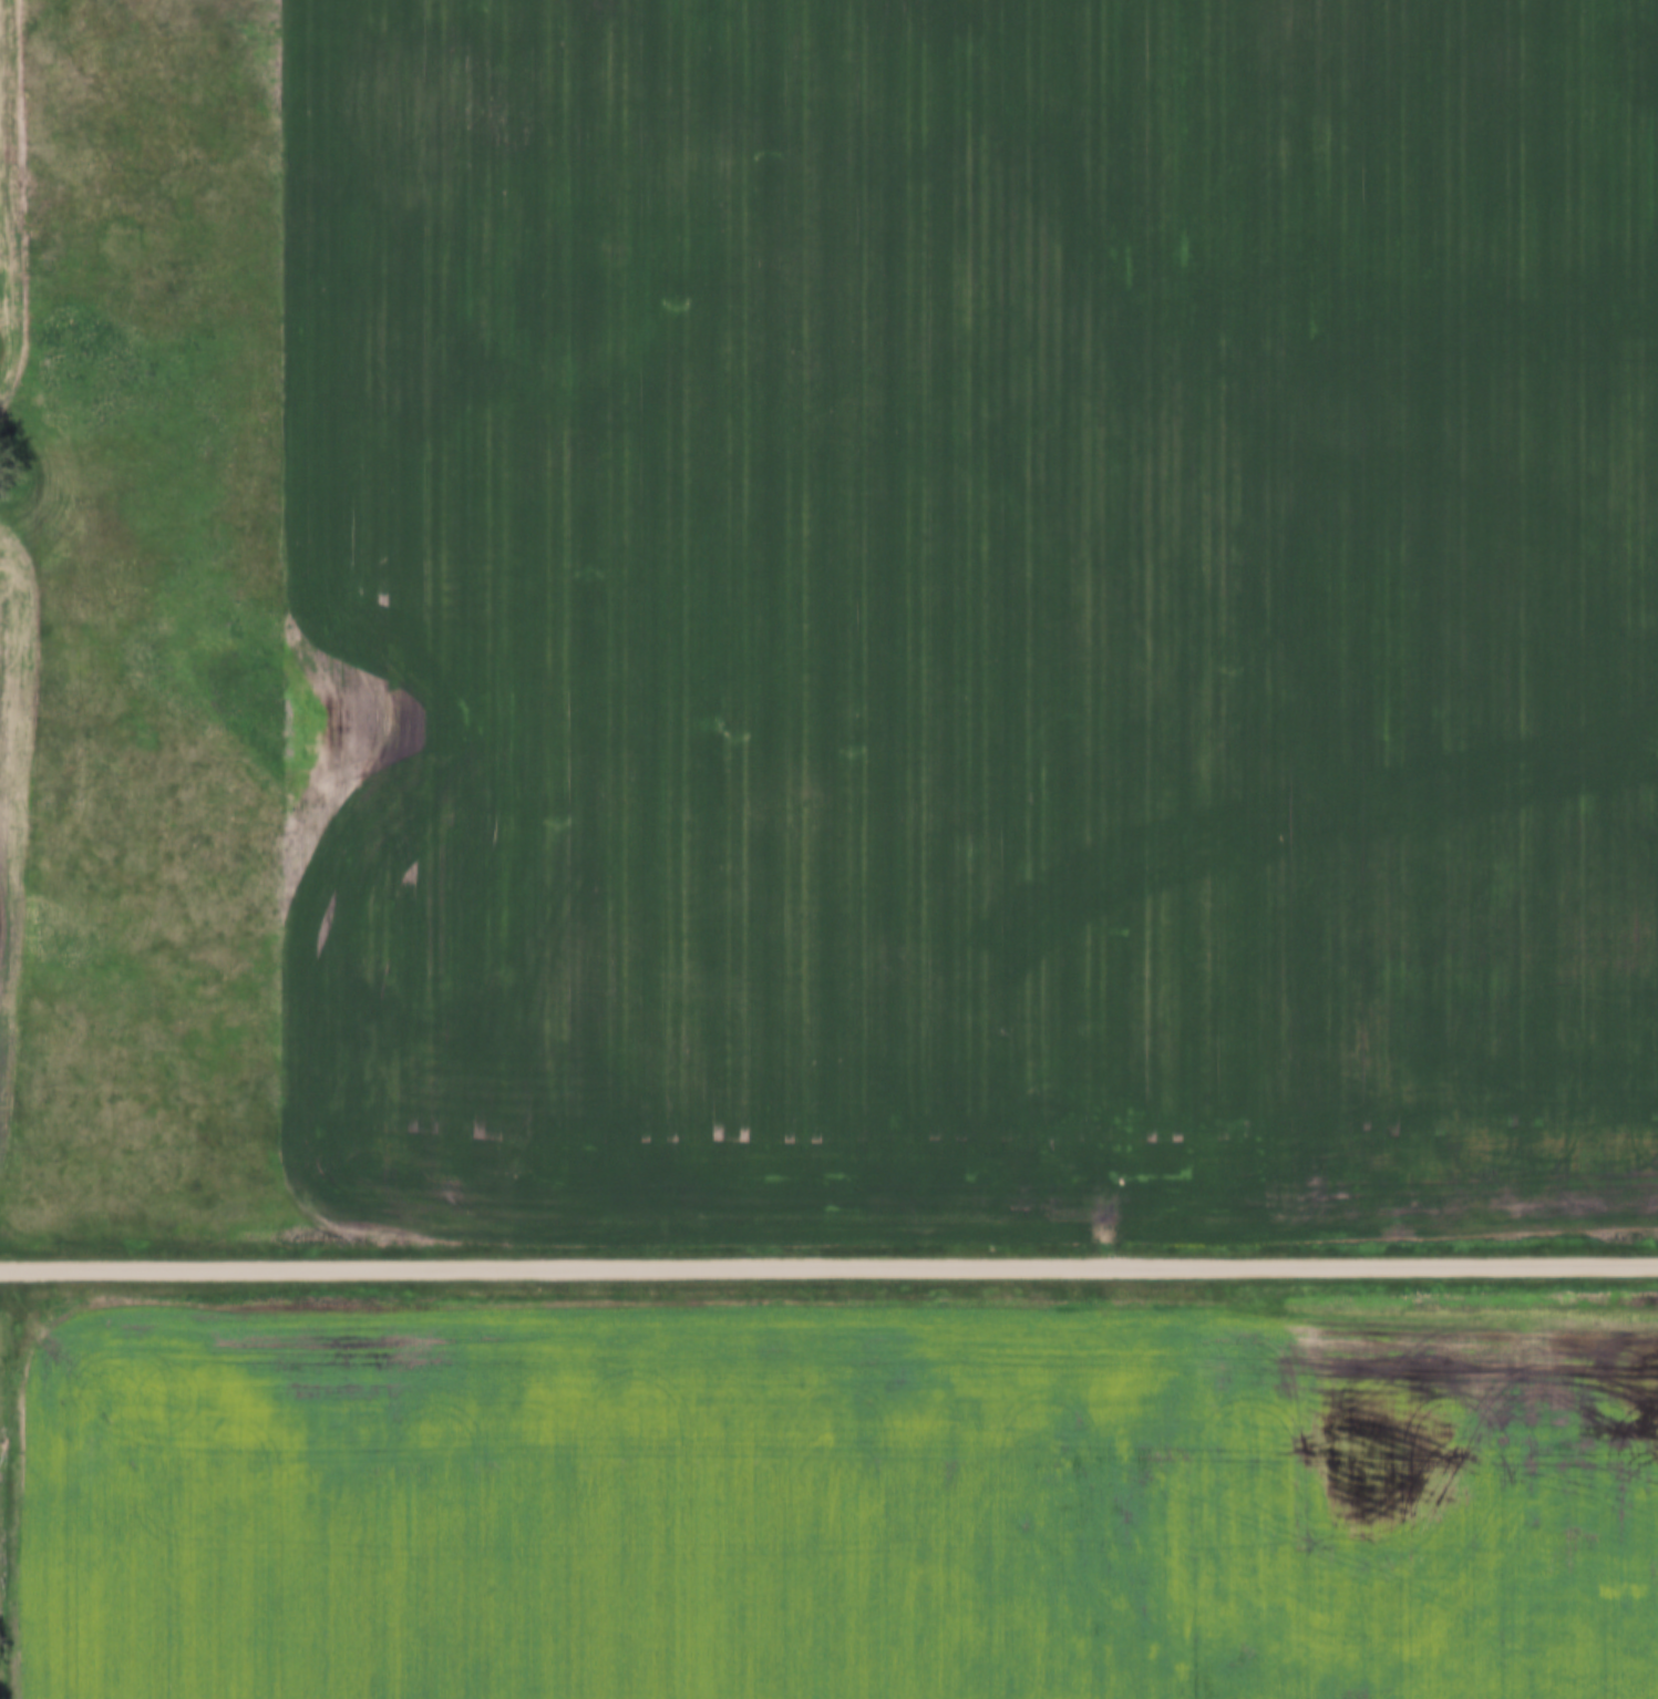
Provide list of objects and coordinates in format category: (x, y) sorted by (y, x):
road: (828, 1262)

